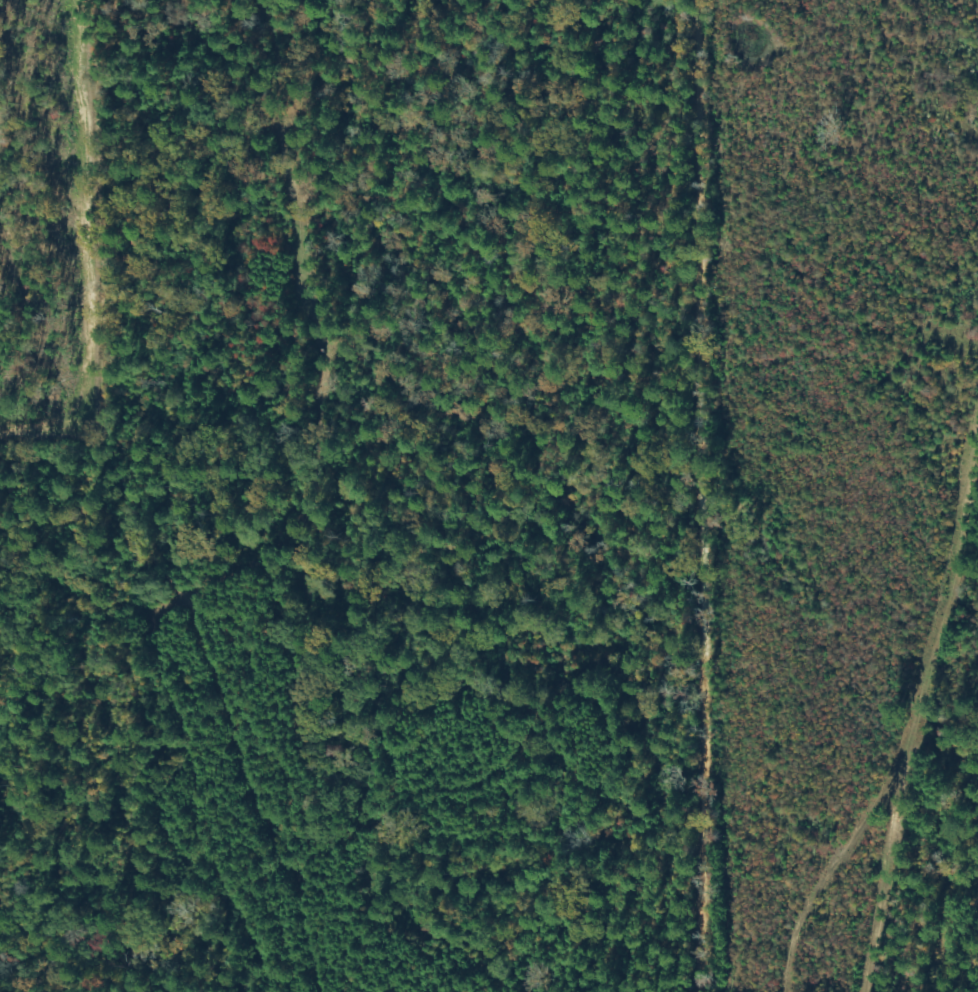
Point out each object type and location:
road: (600, 497)

